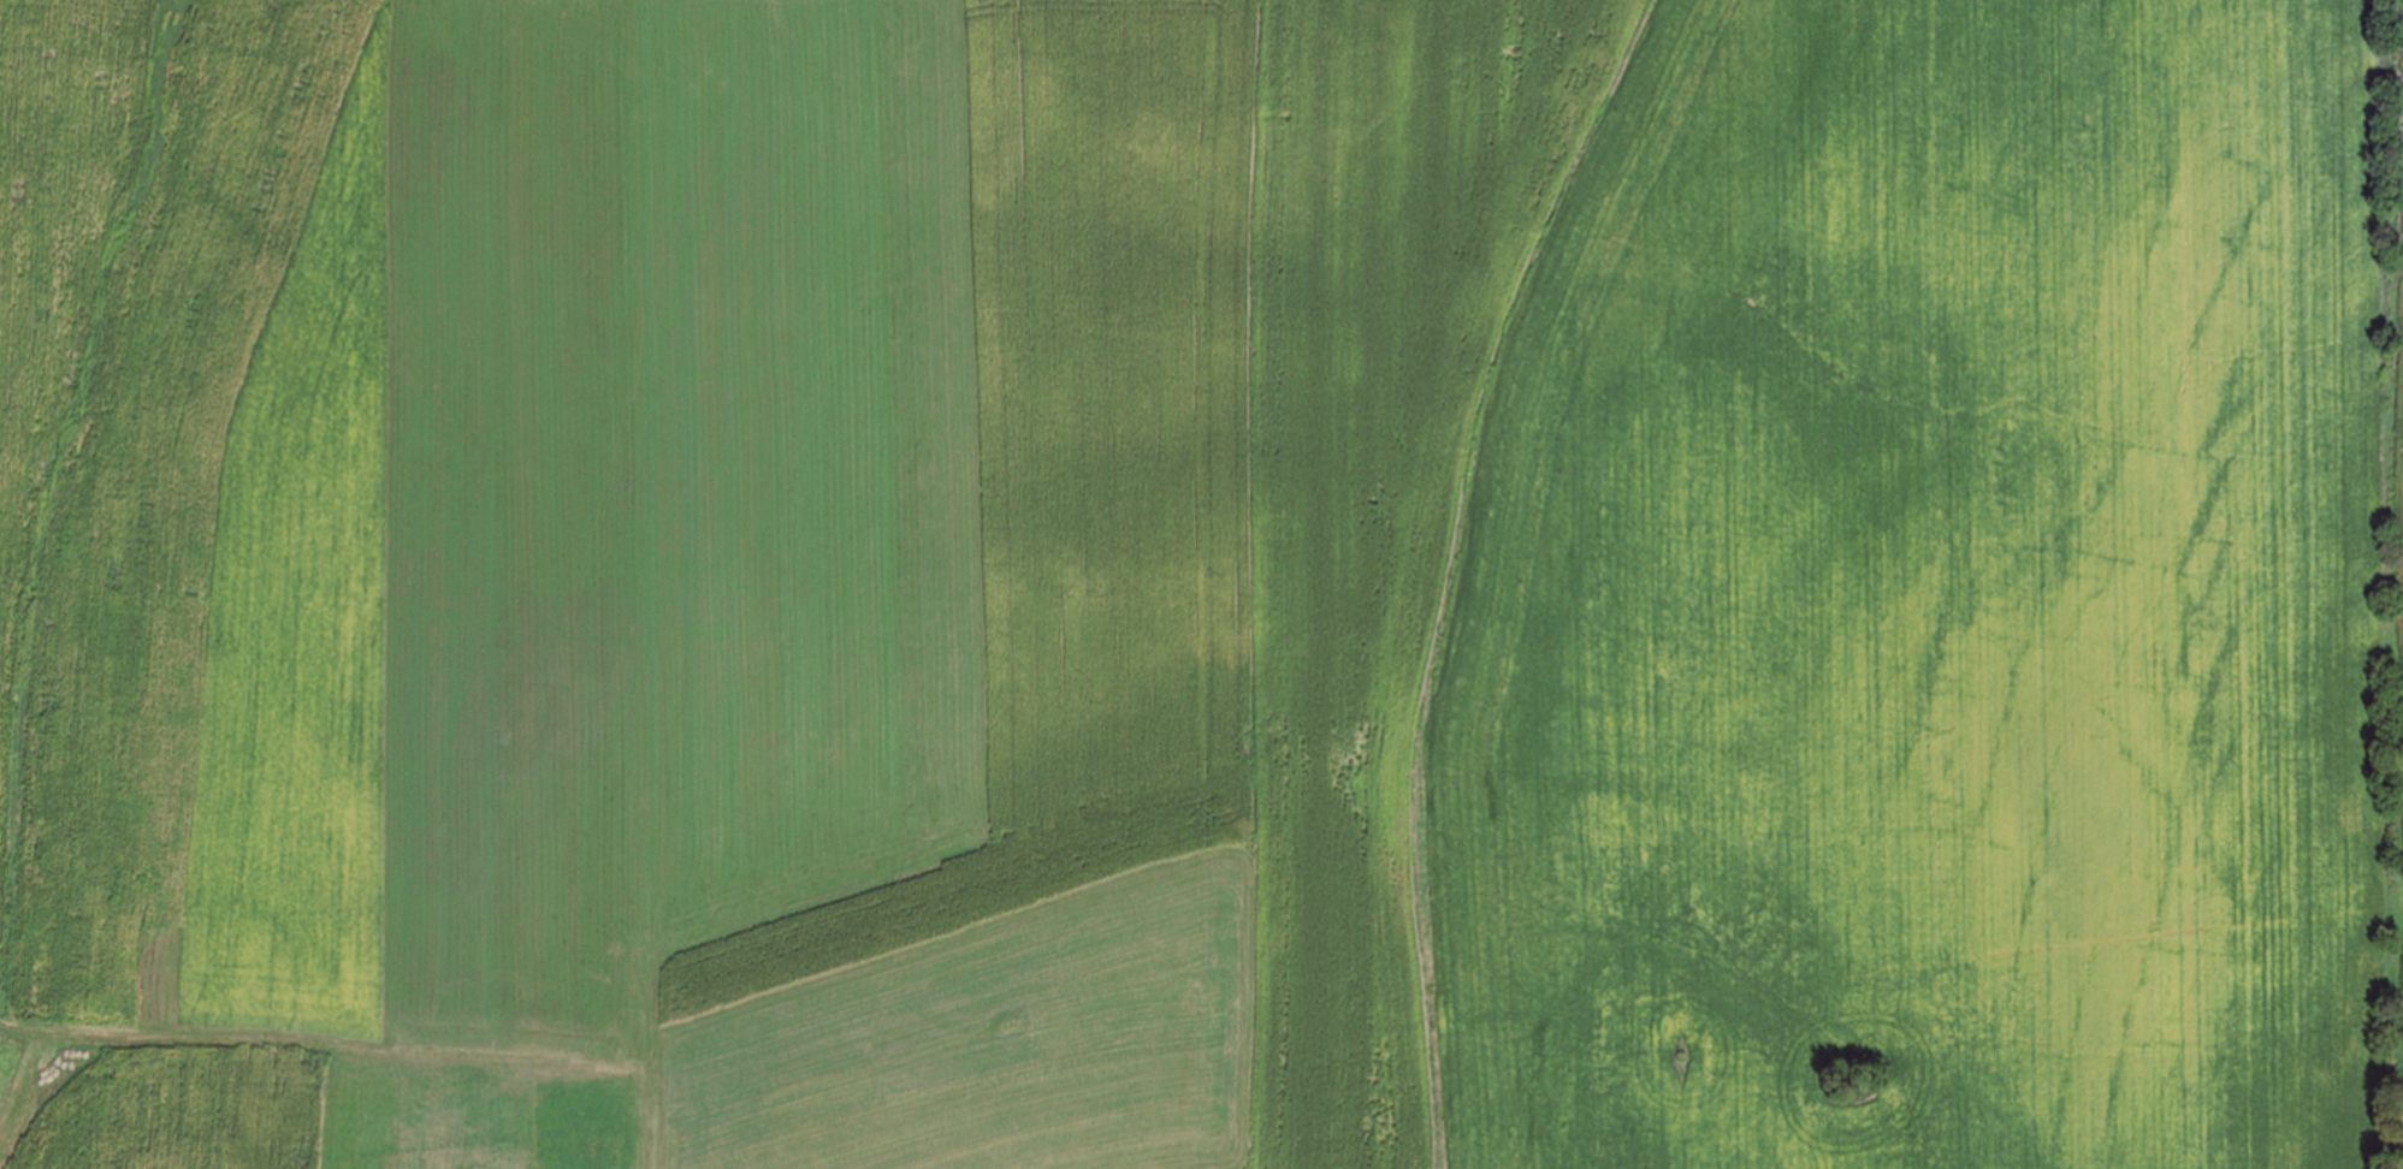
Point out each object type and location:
road: (372, 1048)
road: (427, 1099)

